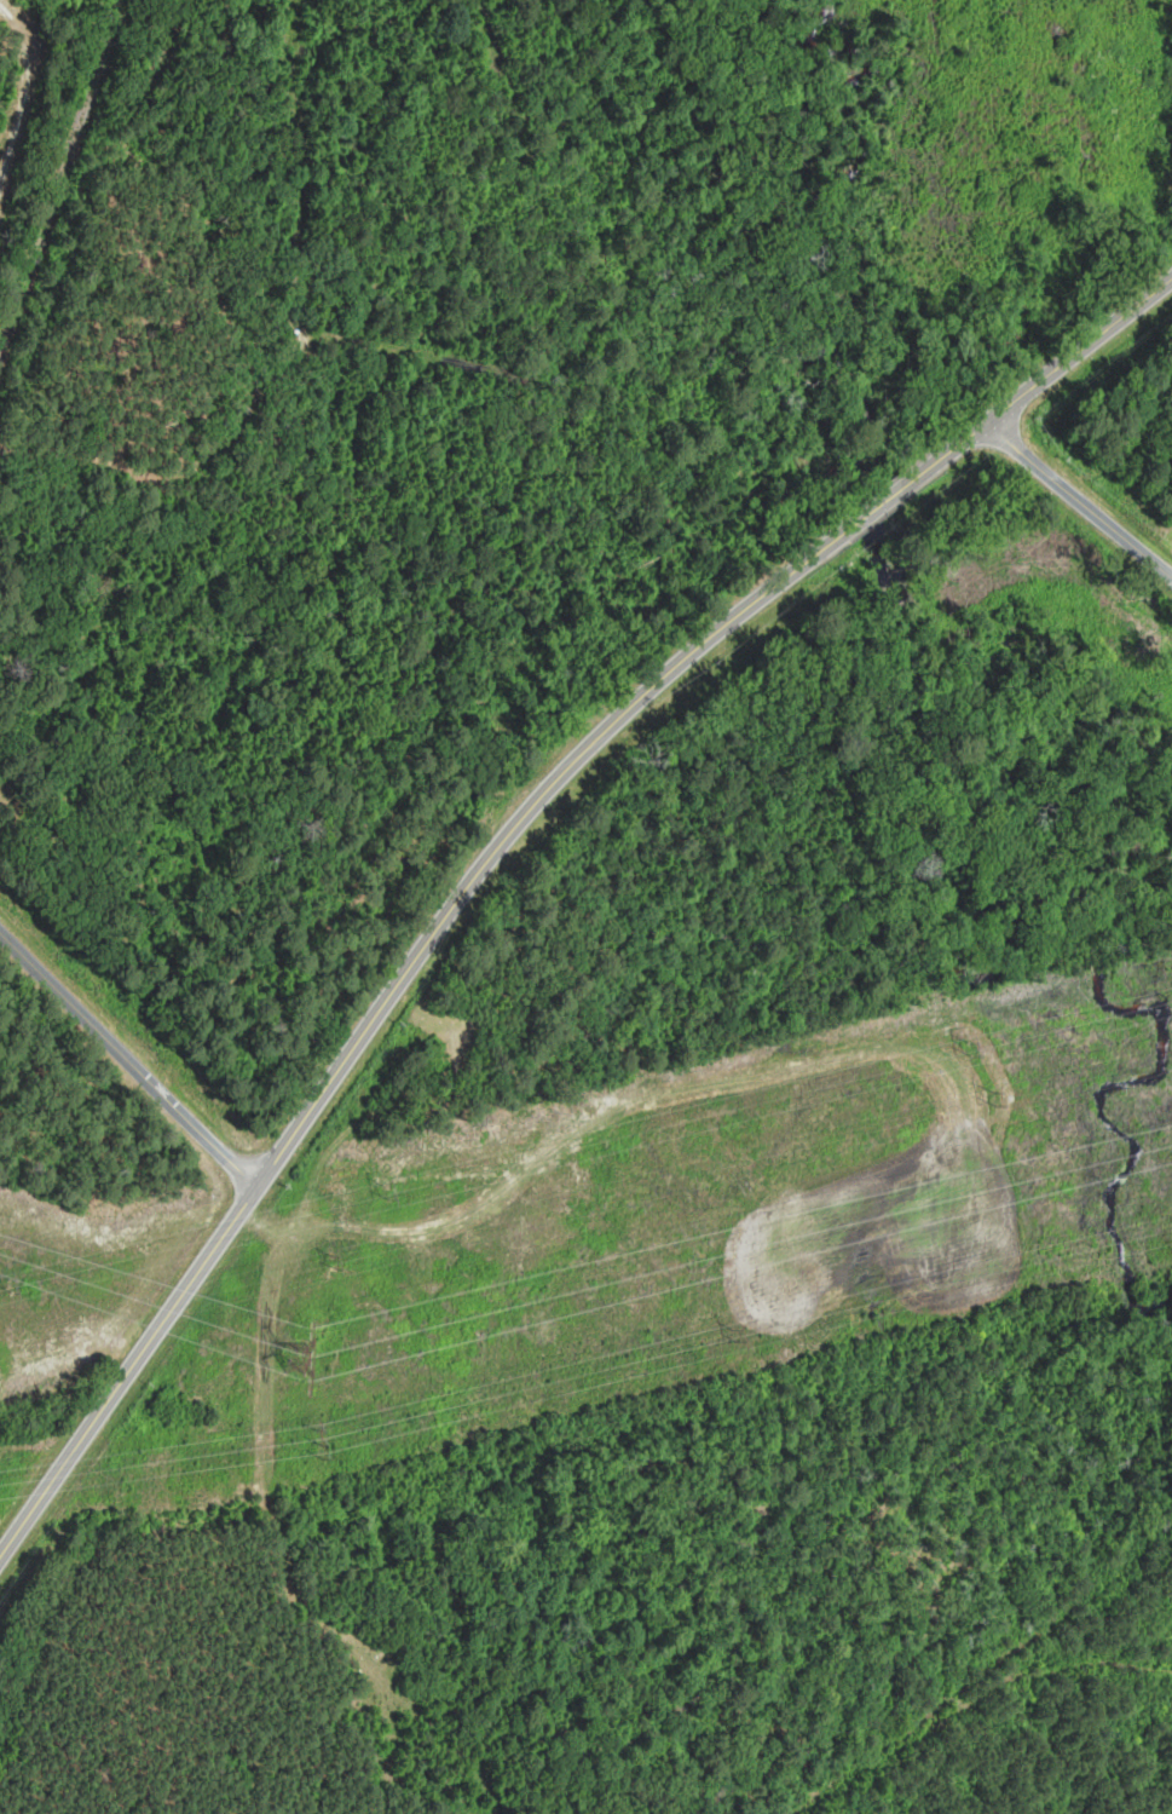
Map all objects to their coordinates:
railway: (62, 179)
road: (1038, 380)
road: (1078, 500)
road: (868, 509)
road: (377, 1012)
power tower: (969, 1050)
road: (127, 1059)
power tower: (993, 1095)
power tower: (387, 1193)
power tower: (333, 1262)
power tower: (11, 1284)
power tower: (735, 1334)
power tower: (299, 1353)
power tower: (322, 1440)

